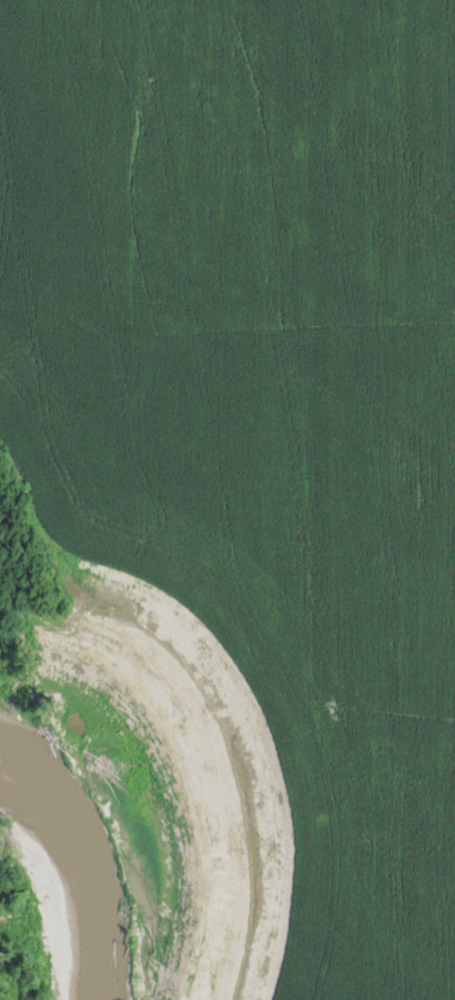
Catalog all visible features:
river: (61, 869)

